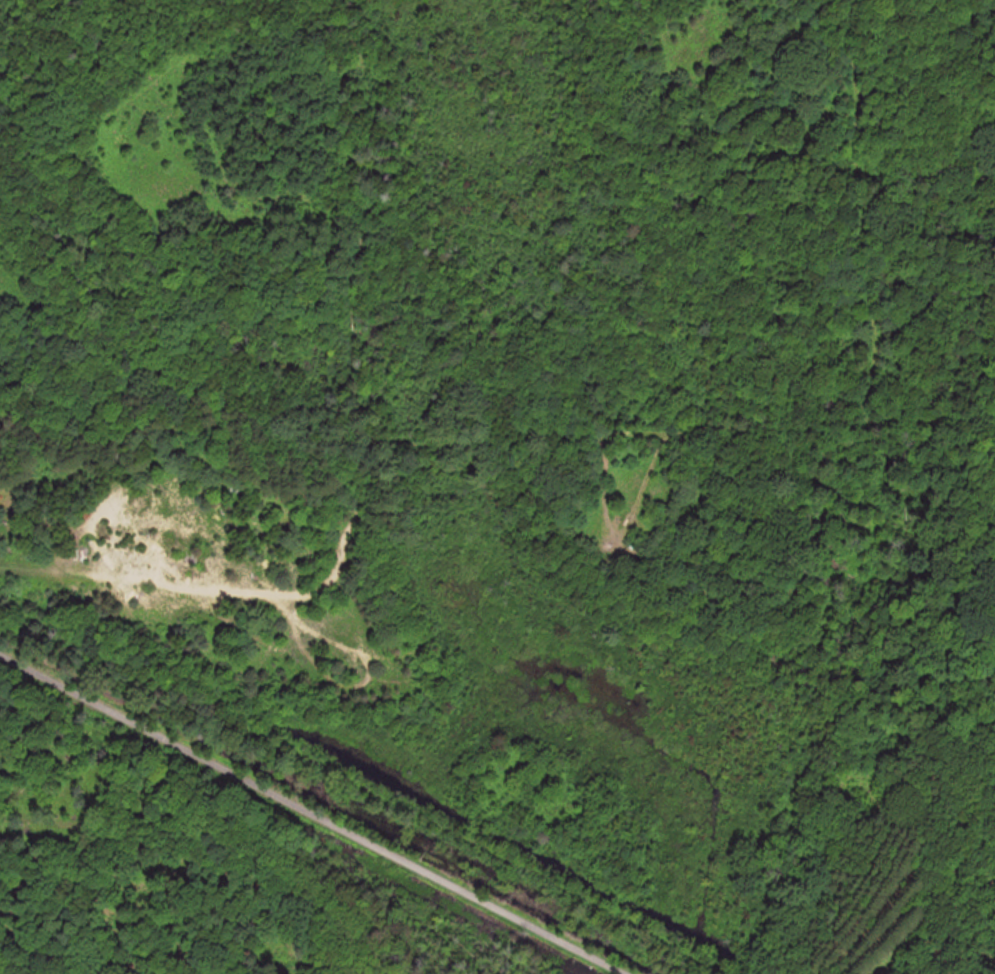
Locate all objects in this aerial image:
road: (315, 813)

